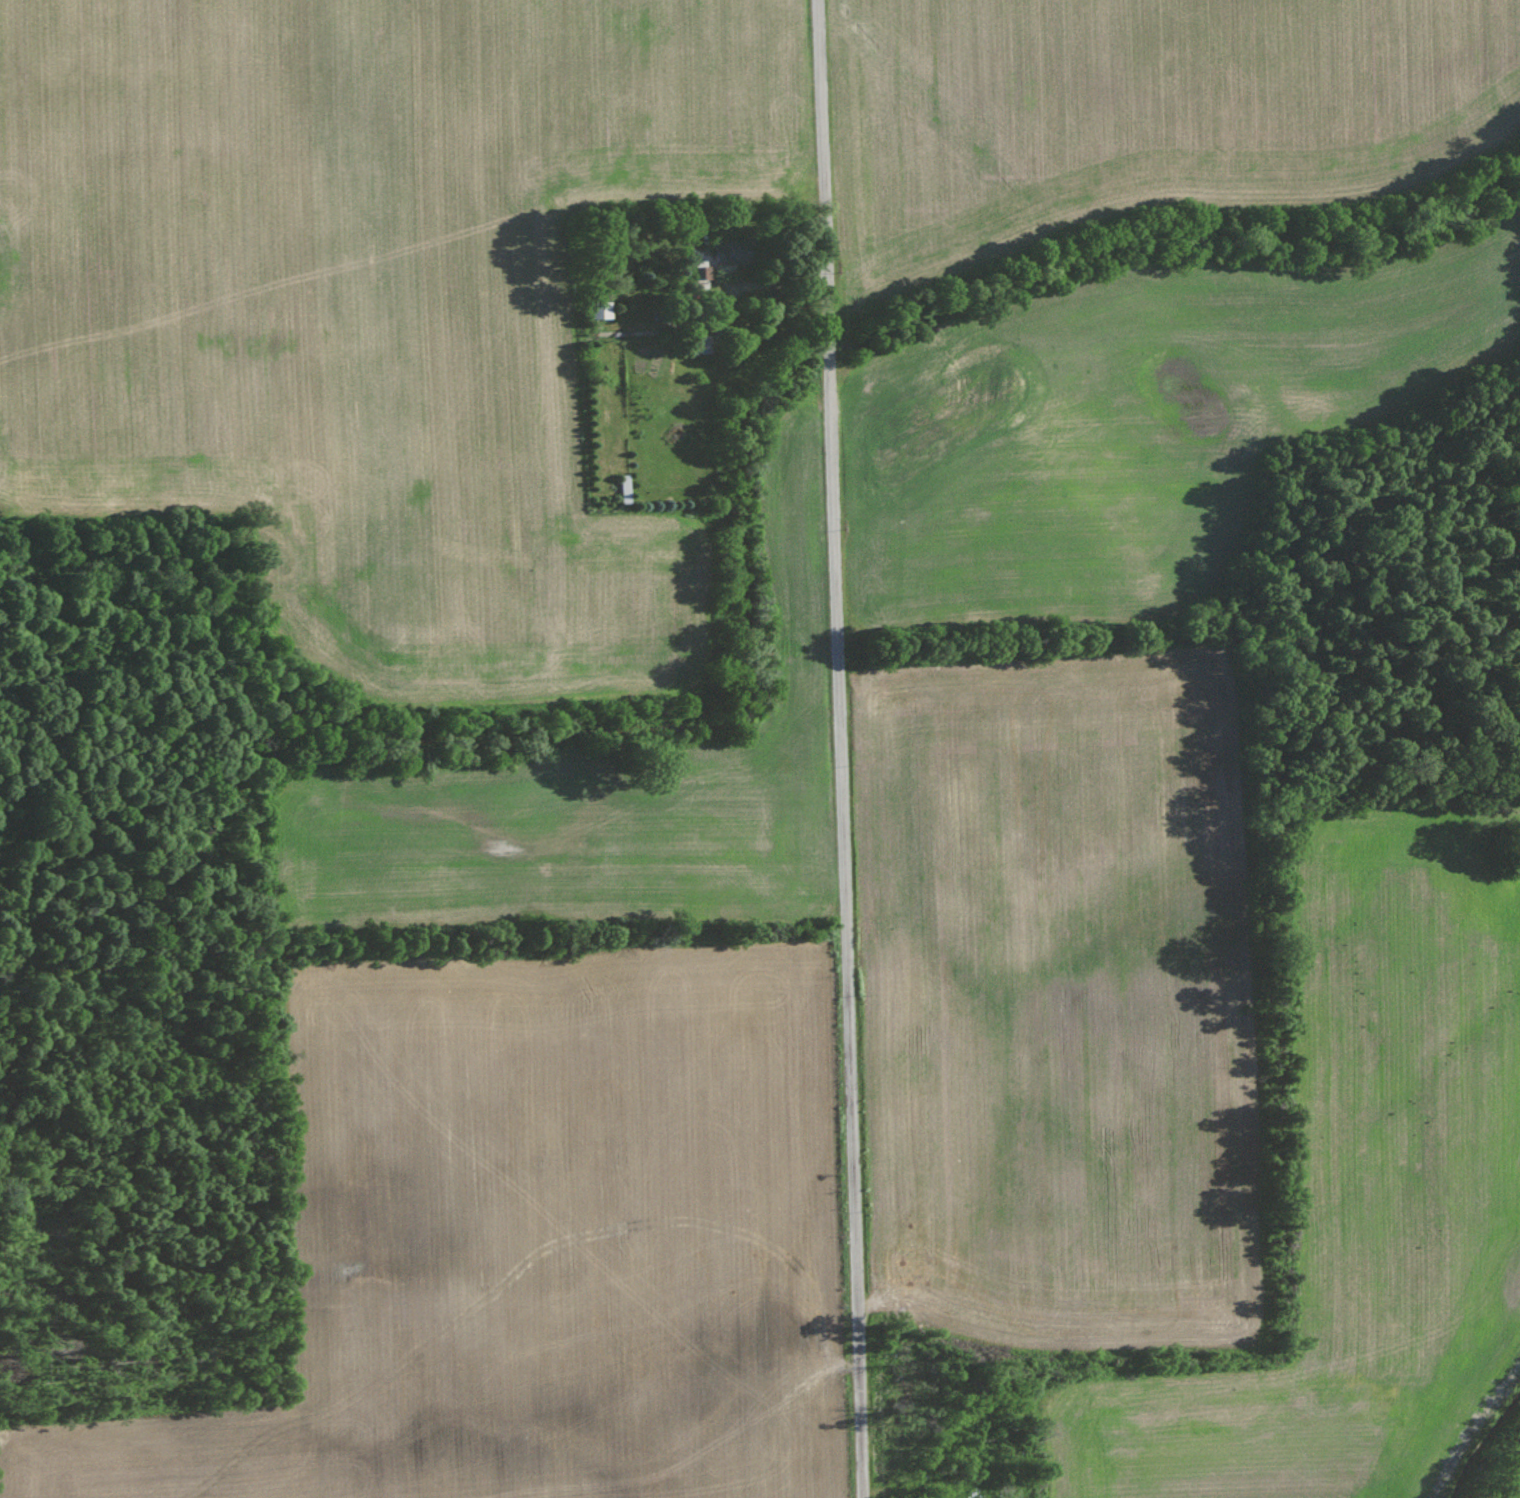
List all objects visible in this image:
road: (840, 749)

